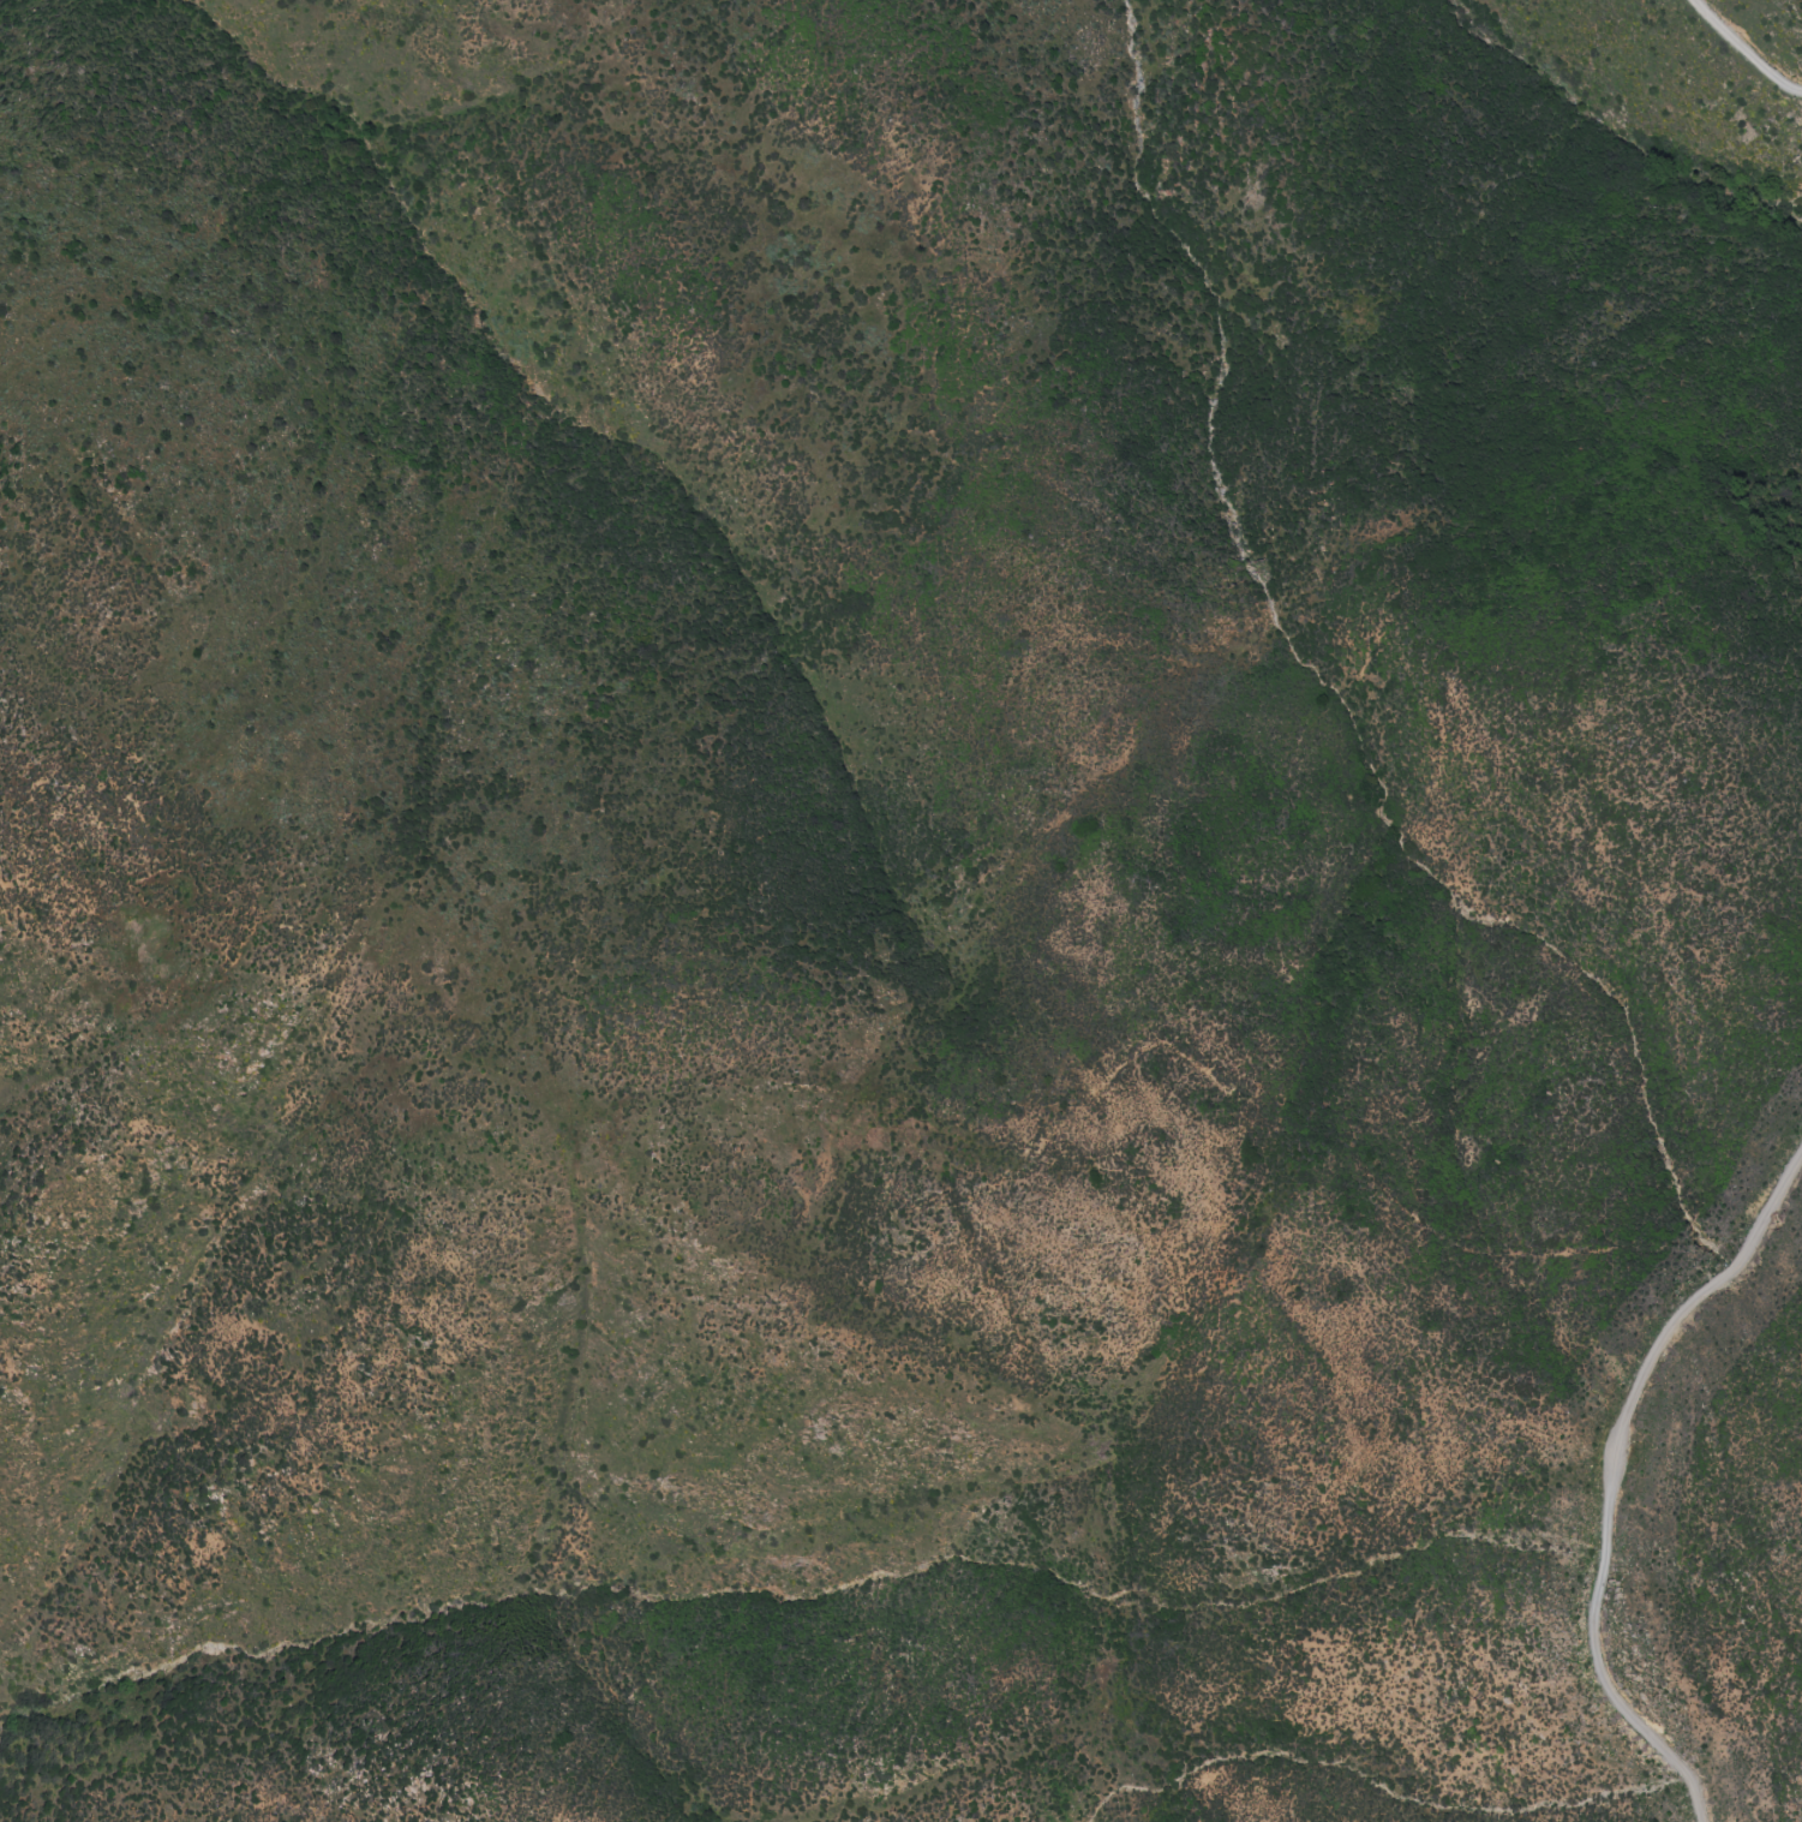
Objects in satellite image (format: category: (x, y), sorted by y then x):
road: (1744, 50)
road: (1614, 1481)

